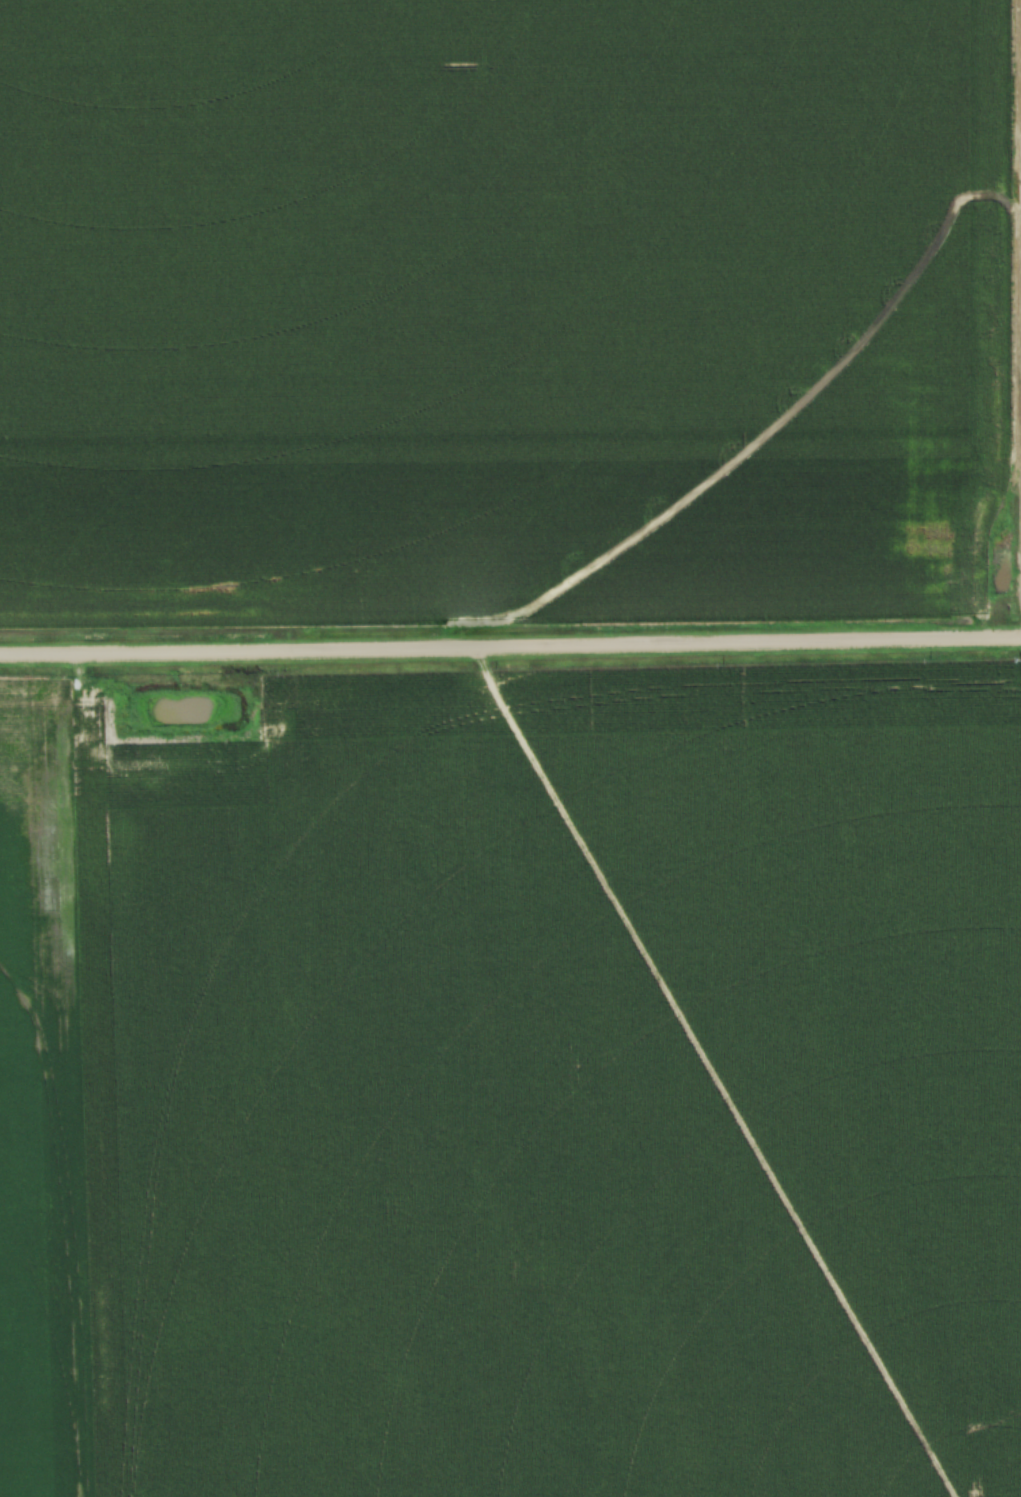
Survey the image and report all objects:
crop: (504, 306)
road: (510, 645)
crop: (518, 1090)

